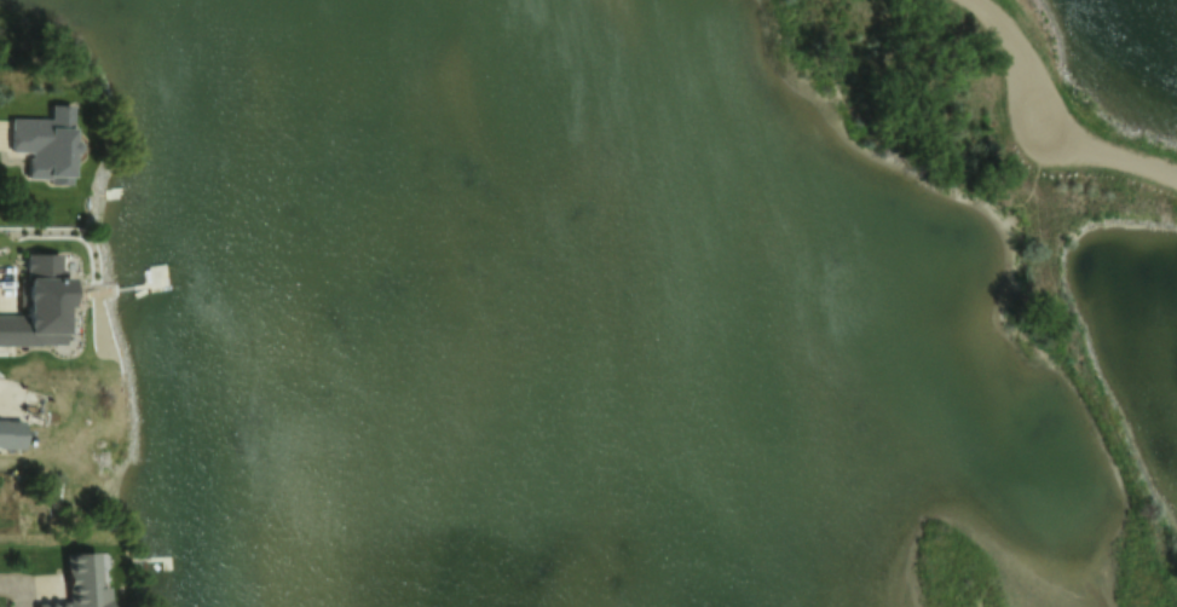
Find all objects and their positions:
road: (1022, 67)
building: (47, 143)
building: (35, 305)
building: (10, 434)
pier: (158, 561)
building: (80, 584)

